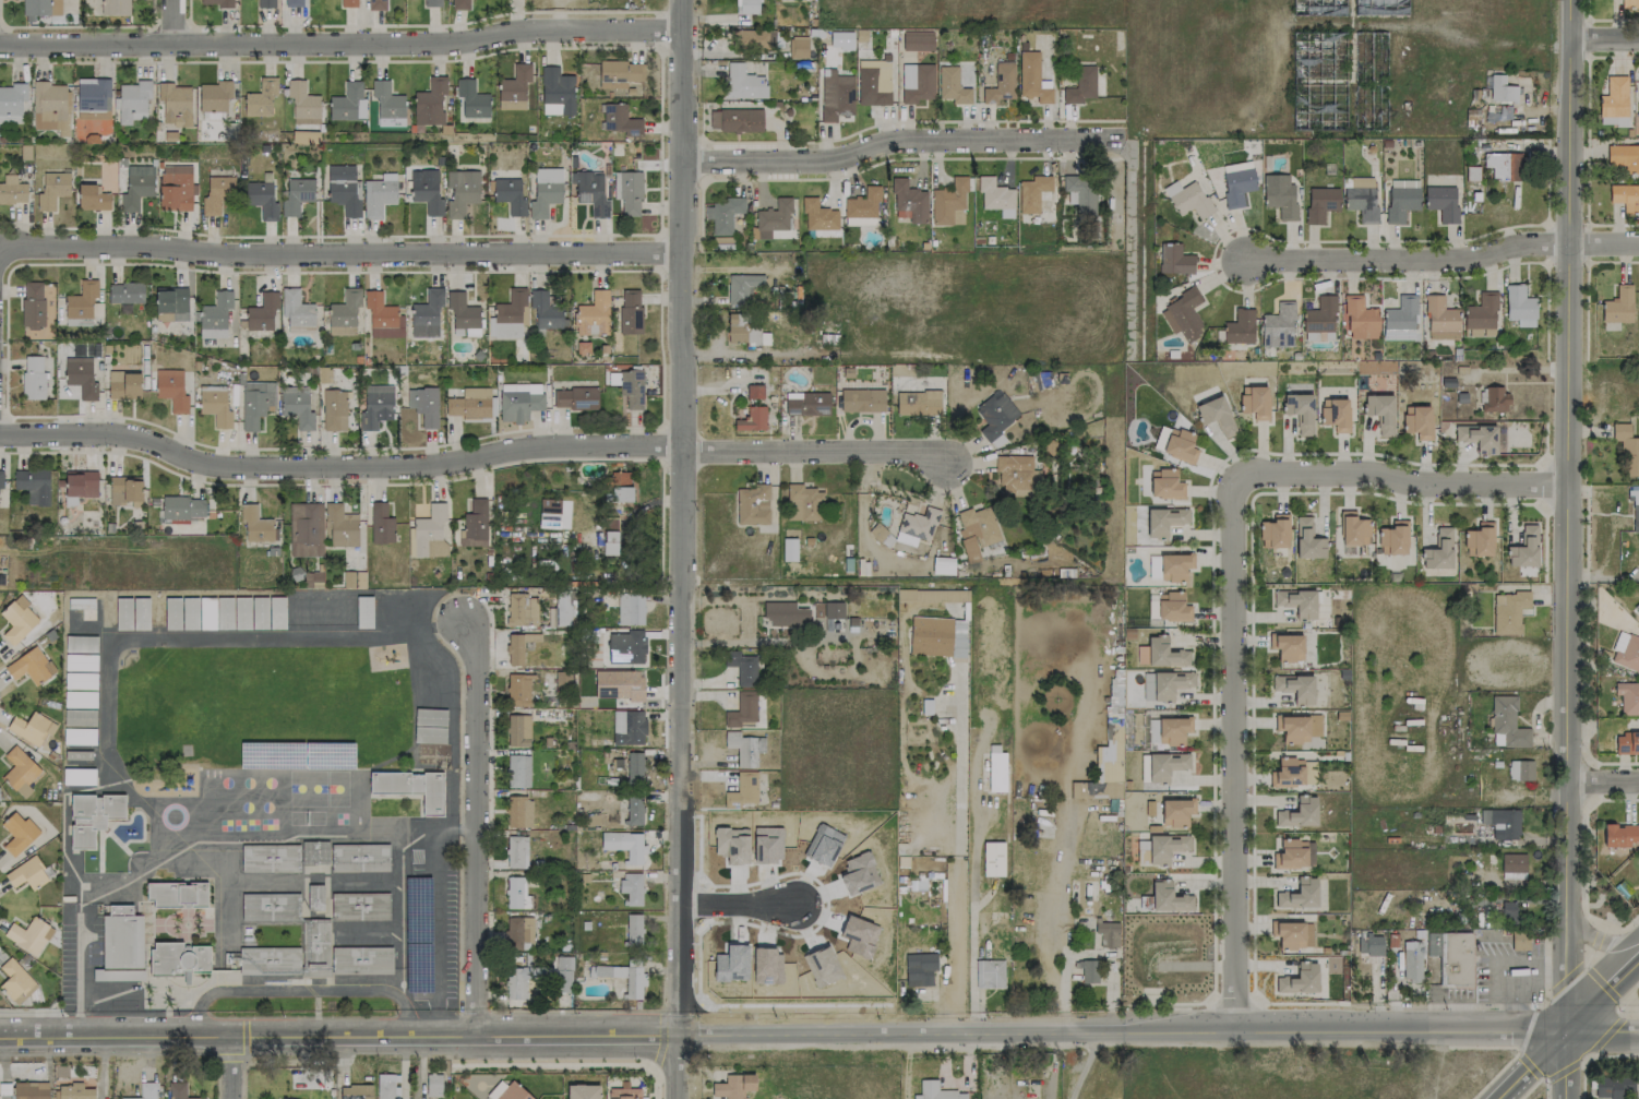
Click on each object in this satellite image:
building: (216, 2)
building: (265, 3)
building: (296, 3)
building: (348, 3)
building: (432, 3)
building: (1629, 3)
building: (39, 7)
building: (746, 7)
building: (115, 8)
building: (1318, 8)
building: (1383, 9)
road: (1603, 19)
road: (176, 22)
road: (1604, 33)
building: (753, 38)
building: (918, 40)
road: (342, 45)
building: (798, 47)
building: (621, 72)
building: (1031, 77)
building: (742, 82)
building: (873, 82)
building: (917, 82)
building: (1001, 84)
building: (1321, 84)
building: (952, 85)
building: (1080, 85)
building: (512, 87)
building: (555, 89)
building: (1502, 89)
building: (836, 96)
building: (91, 97)
building: (259, 98)
building: (213, 99)
building: (470, 99)
building: (1638, 99)
building: (131, 100)
building: (11, 101)
building: (1613, 101)
building: (301, 103)
building: (346, 103)
building: (174, 104)
building: (385, 104)
building: (428, 104)
building: (50, 106)
building: (620, 120)
building: (735, 120)
building: (306, 127)
road: (898, 139)
building: (1624, 156)
building: (1503, 165)
building: (135, 186)
building: (1237, 186)
building: (175, 188)
building: (344, 189)
building: (12, 190)
building: (52, 190)
building: (426, 191)
building: (460, 191)
building: (545, 191)
building: (627, 191)
building: (589, 192)
building: (1032, 192)
building: (215, 193)
building: (1080, 193)
building: (1279, 194)
building: (296, 195)
building: (378, 195)
building: (510, 195)
building: (995, 196)
building: (1625, 196)
building: (92, 198)
building: (262, 199)
building: (1187, 199)
building: (1401, 200)
building: (1361, 202)
building: (1441, 202)
building: (863, 203)
building: (949, 203)
building: (1320, 203)
building: (722, 214)
building: (818, 216)
building: (773, 217)
road: (1603, 237)
road: (342, 252)
road: (1403, 258)
building: (1174, 259)
building: (741, 286)
building: (125, 292)
building: (81, 300)
building: (171, 303)
building: (32, 304)
building: (1519, 306)
building: (1618, 306)
building: (296, 309)
building: (262, 311)
building: (462, 311)
building: (545, 311)
building: (630, 311)
building: (344, 312)
building: (1481, 312)
building: (427, 313)
building: (593, 314)
building: (1182, 314)
building: (215, 315)
building: (509, 315)
building: (1319, 315)
building: (382, 316)
building: (1360, 319)
building: (1400, 319)
building: (1440, 319)
building: (1239, 326)
building: (1277, 326)
building: (744, 330)
building: (34, 377)
building: (81, 377)
building: (123, 384)
building: (632, 387)
building: (171, 390)
building: (754, 391)
building: (575, 397)
building: (861, 399)
building: (1493, 399)
building: (519, 401)
building: (256, 403)
building: (469, 403)
building: (806, 403)
building: (918, 403)
building: (1255, 403)
building: (375, 405)
building: (423, 405)
building: (296, 406)
building: (215, 407)
building: (334, 410)
building: (1300, 411)
building: (1380, 411)
building: (995, 415)
building: (1216, 415)
building: (1336, 415)
building: (752, 419)
building: (1417, 422)
building: (1478, 438)
building: (997, 441)
building: (1179, 445)
building: (1627, 449)
road: (818, 452)
road: (340, 469)
building: (1013, 475)
building: (1, 478)
road: (1403, 481)
building: (81, 483)
building: (33, 485)
building: (1164, 485)
building: (619, 487)
building: (124, 490)
building: (801, 501)
building: (753, 504)
building: (182, 507)
building: (1635, 507)
road: (683, 517)
building: (1163, 521)
building: (255, 524)
building: (381, 524)
building: (475, 524)
building: (919, 524)
building: (340, 525)
building: (306, 529)
building: (976, 529)
building: (1353, 529)
building: (1275, 531)
building: (431, 533)
building: (890, 536)
building: (1392, 538)
building: (1306, 539)
building: (1479, 539)
building: (610, 542)
building: (1523, 548)
road: (1569, 549)
building: (1438, 550)
building: (943, 565)
building: (1174, 565)
building: (2, 576)
building: (354, 578)
building: (932, 595)
building: (1297, 602)
building: (1172, 607)
building: (560, 608)
building: (522, 609)
building: (630, 609)
building: (834, 609)
building: (1508, 611)
building: (785, 613)
building: (1638, 614)
building: (17, 620)
building: (261, 621)
building: (937, 636)
building: (518, 646)
building: (626, 646)
building: (1287, 646)
building: (1626, 652)
building: (1163, 653)
building: (31, 666)
building: (742, 667)
building: (1170, 683)
building: (619, 684)
building: (1295, 688)
road: (105, 689)
building: (517, 690)
building: (1628, 697)
park: (256, 707)
building: (742, 709)
building: (1506, 722)
building: (31, 727)
building: (627, 727)
building: (1297, 727)
building: (1173, 729)
building: (517, 730)
building: (1626, 743)
building: (744, 748)
road: (1235, 752)
building: (1164, 765)
building: (634, 767)
building: (19, 768)
building: (996, 768)
building: (1520, 769)
building: (517, 771)
building: (1288, 773)
road: (1604, 783)
building: (412, 787)
road: (958, 789)
building: (742, 790)
building: (633, 809)
building: (518, 811)
building: (1175, 811)
building: (1299, 813)
building: (93, 816)
road: (435, 823)
building: (1502, 823)
road: (471, 825)
building: (17, 833)
building: (1619, 835)
building: (624, 844)
building: (1165, 847)
building: (1638, 848)
building: (516, 852)
building: (1294, 853)
building: (313, 855)
building: (359, 857)
building: (270, 858)
building: (993, 859)
building: (1512, 865)
building: (26, 873)
building: (631, 887)
building: (516, 893)
building: (178, 894)
building: (1299, 894)
building: (1168, 897)
road: (735, 905)
building: (270, 906)
building: (359, 906)
building: (1508, 912)
road: (1623, 927)
building: (633, 929)
road: (1046, 931)
building: (1106, 933)
parking lot: (432, 934)
building: (1292, 934)
building: (28, 935)
building: (1519, 940)
road: (1602, 941)
building: (119, 943)
building: (1374, 943)
road: (1593, 944)
road: (970, 946)
road: (958, 949)
building: (291, 954)
building: (1451, 957)
building: (179, 959)
building: (361, 959)
building: (1411, 959)
building: (919, 968)
building: (1087, 969)
building: (991, 972)
building: (563, 973)
building: (523, 979)
building: (1300, 979)
road: (309, 981)
building: (634, 981)
road: (1564, 981)
building: (15, 982)
road: (1605, 987)
road: (308, 989)
road: (299, 991)
road: (1603, 995)
road: (315, 1007)
road: (25, 1012)
road: (193, 1012)
road: (574, 1012)
road: (115, 1013)
road: (471, 1013)
road: (297, 1017)
road: (971, 1023)
road: (1122, 1034)
road: (1603, 1034)
road: (337, 1035)
road: (1605, 1035)
road: (660, 1039)
road: (1516, 1048)
road: (354, 1051)
road: (244, 1056)
road: (1534, 1063)
road: (550, 1064)
road: (1527, 1065)
road: (675, 1066)
road: (1084, 1066)
road: (232, 1067)
road: (1564, 1070)
road: (1539, 1078)
road: (656, 1083)
building: (433, 1084)
building: (387, 1086)
building: (733, 1086)
building: (1614, 1088)
building: (31, 1090)
building: (146, 1090)
building: (178, 1090)
building: (494, 1090)
building: (356, 1091)
building: (582, 1091)
building: (624, 1091)
building: (936, 1091)
building: (513, 1092)

